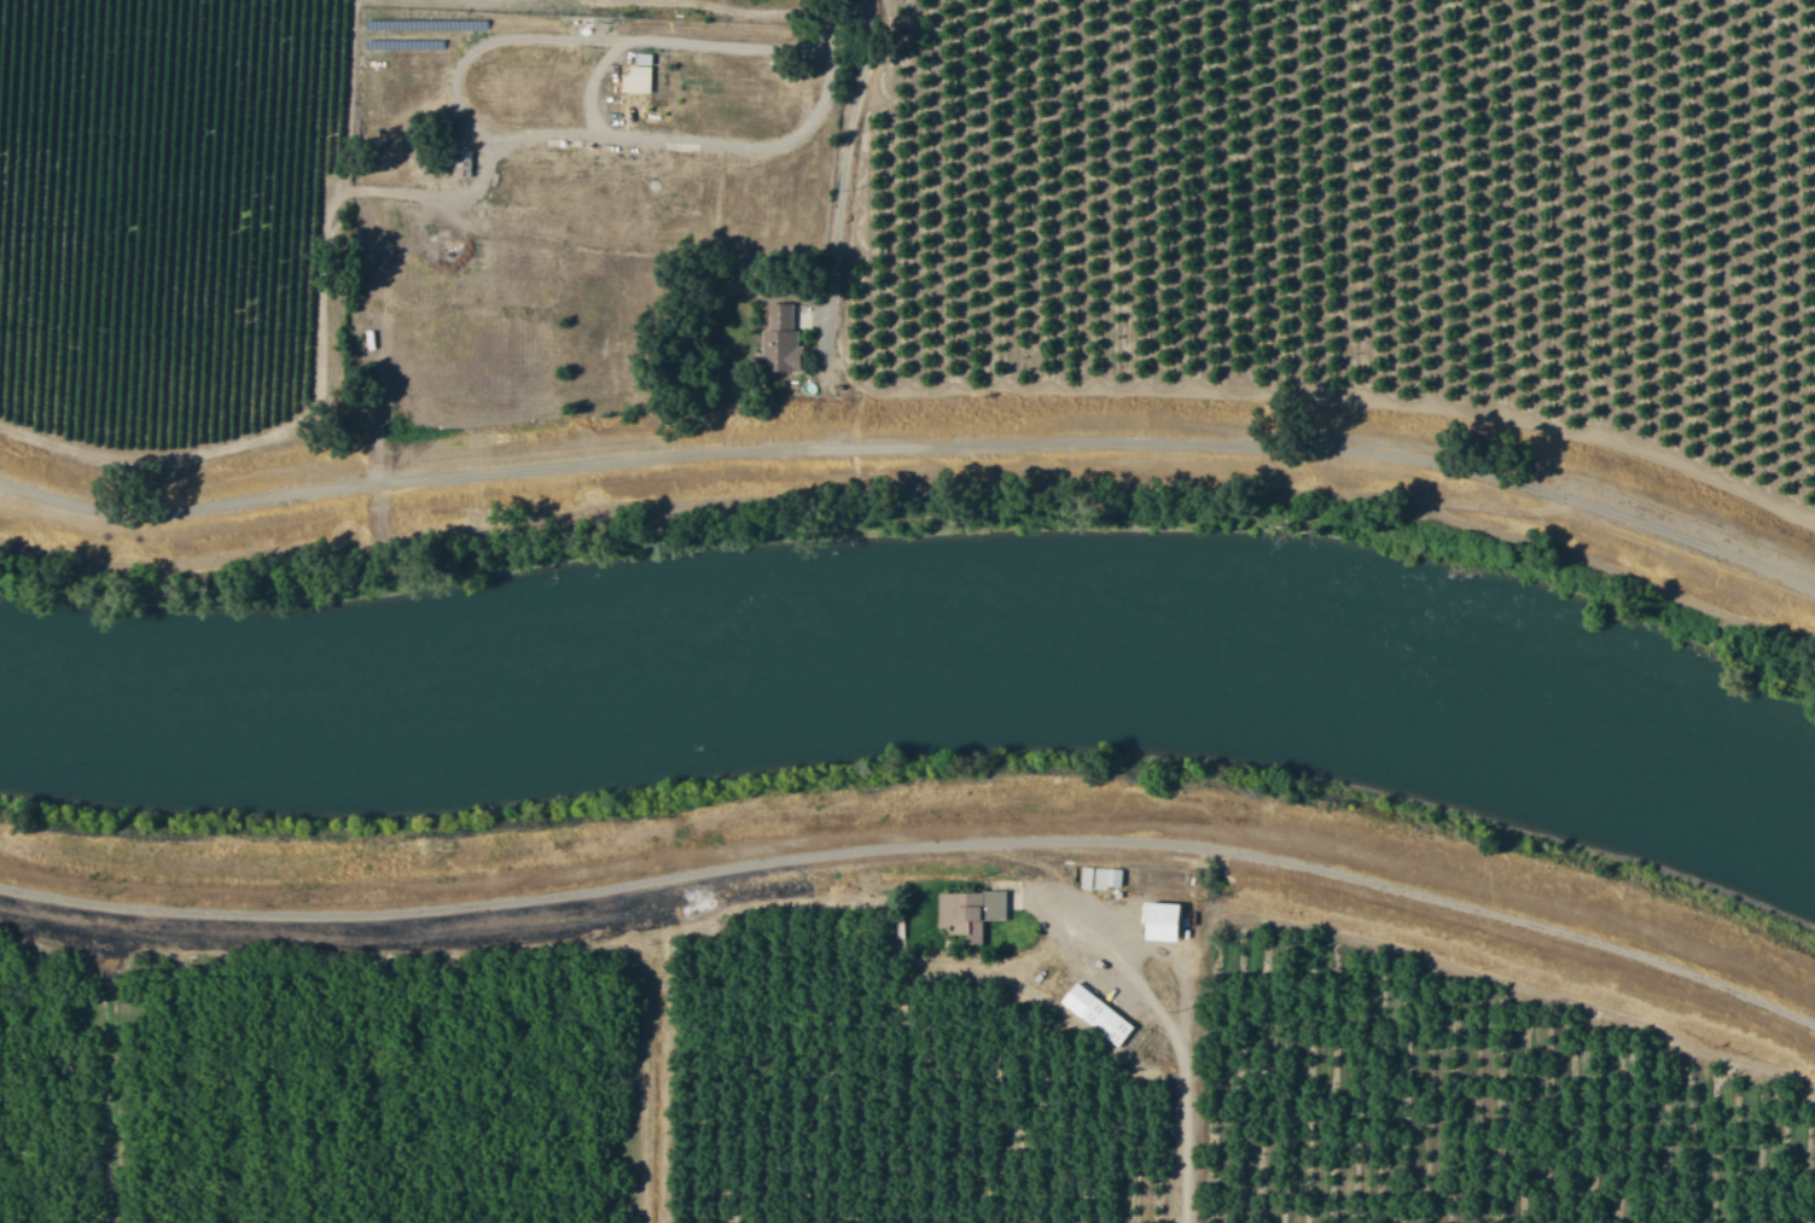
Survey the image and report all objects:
road: (834, 41)
building: (640, 80)
road: (589, 104)
road: (845, 176)
building: (785, 340)
road: (914, 447)
river: (920, 659)
building: (1104, 878)
road: (914, 903)
building: (978, 913)
building: (1168, 921)
building: (1099, 1014)
road: (1196, 1107)
road: (1193, 1200)

